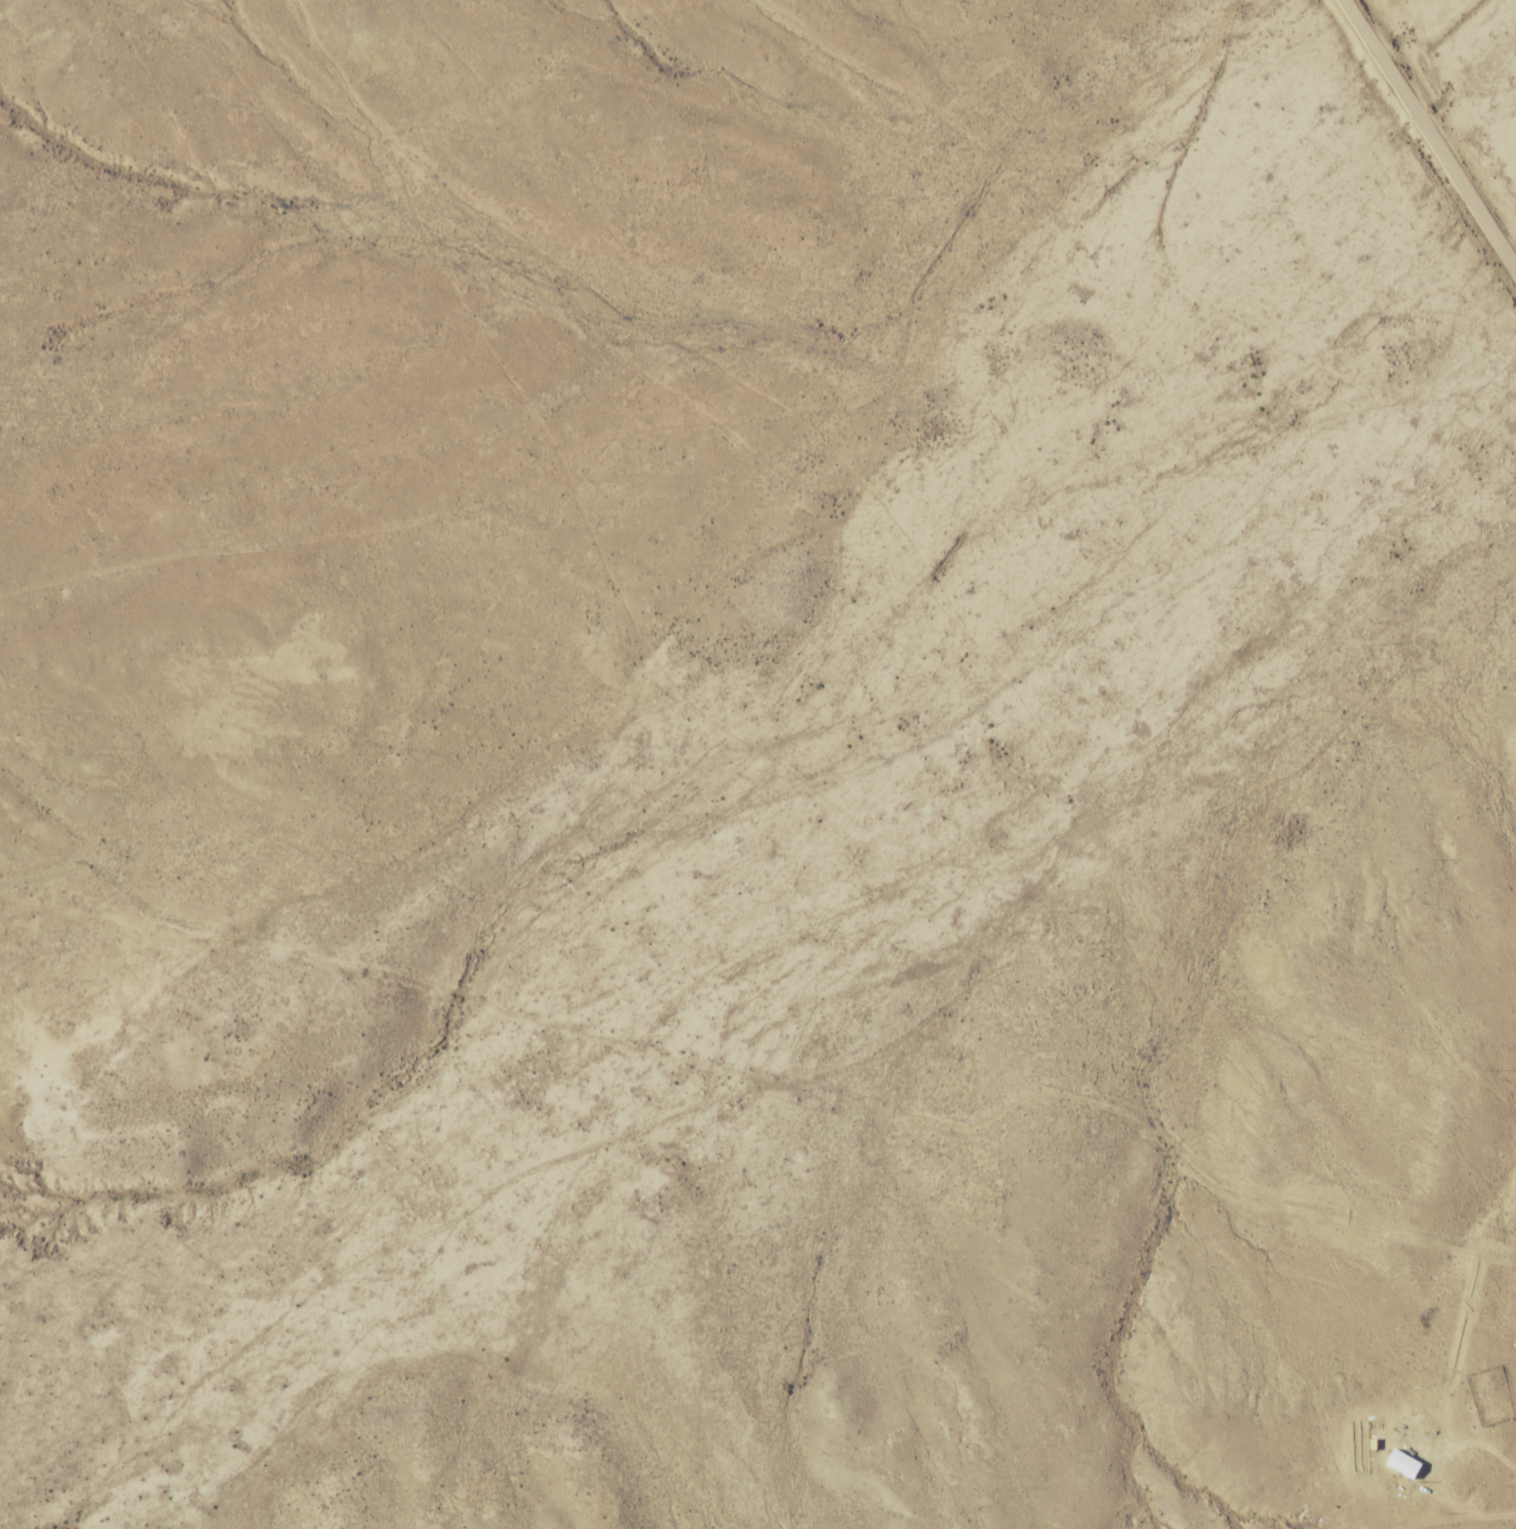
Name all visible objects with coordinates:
road: (1429, 136)
road: (1072, 302)

